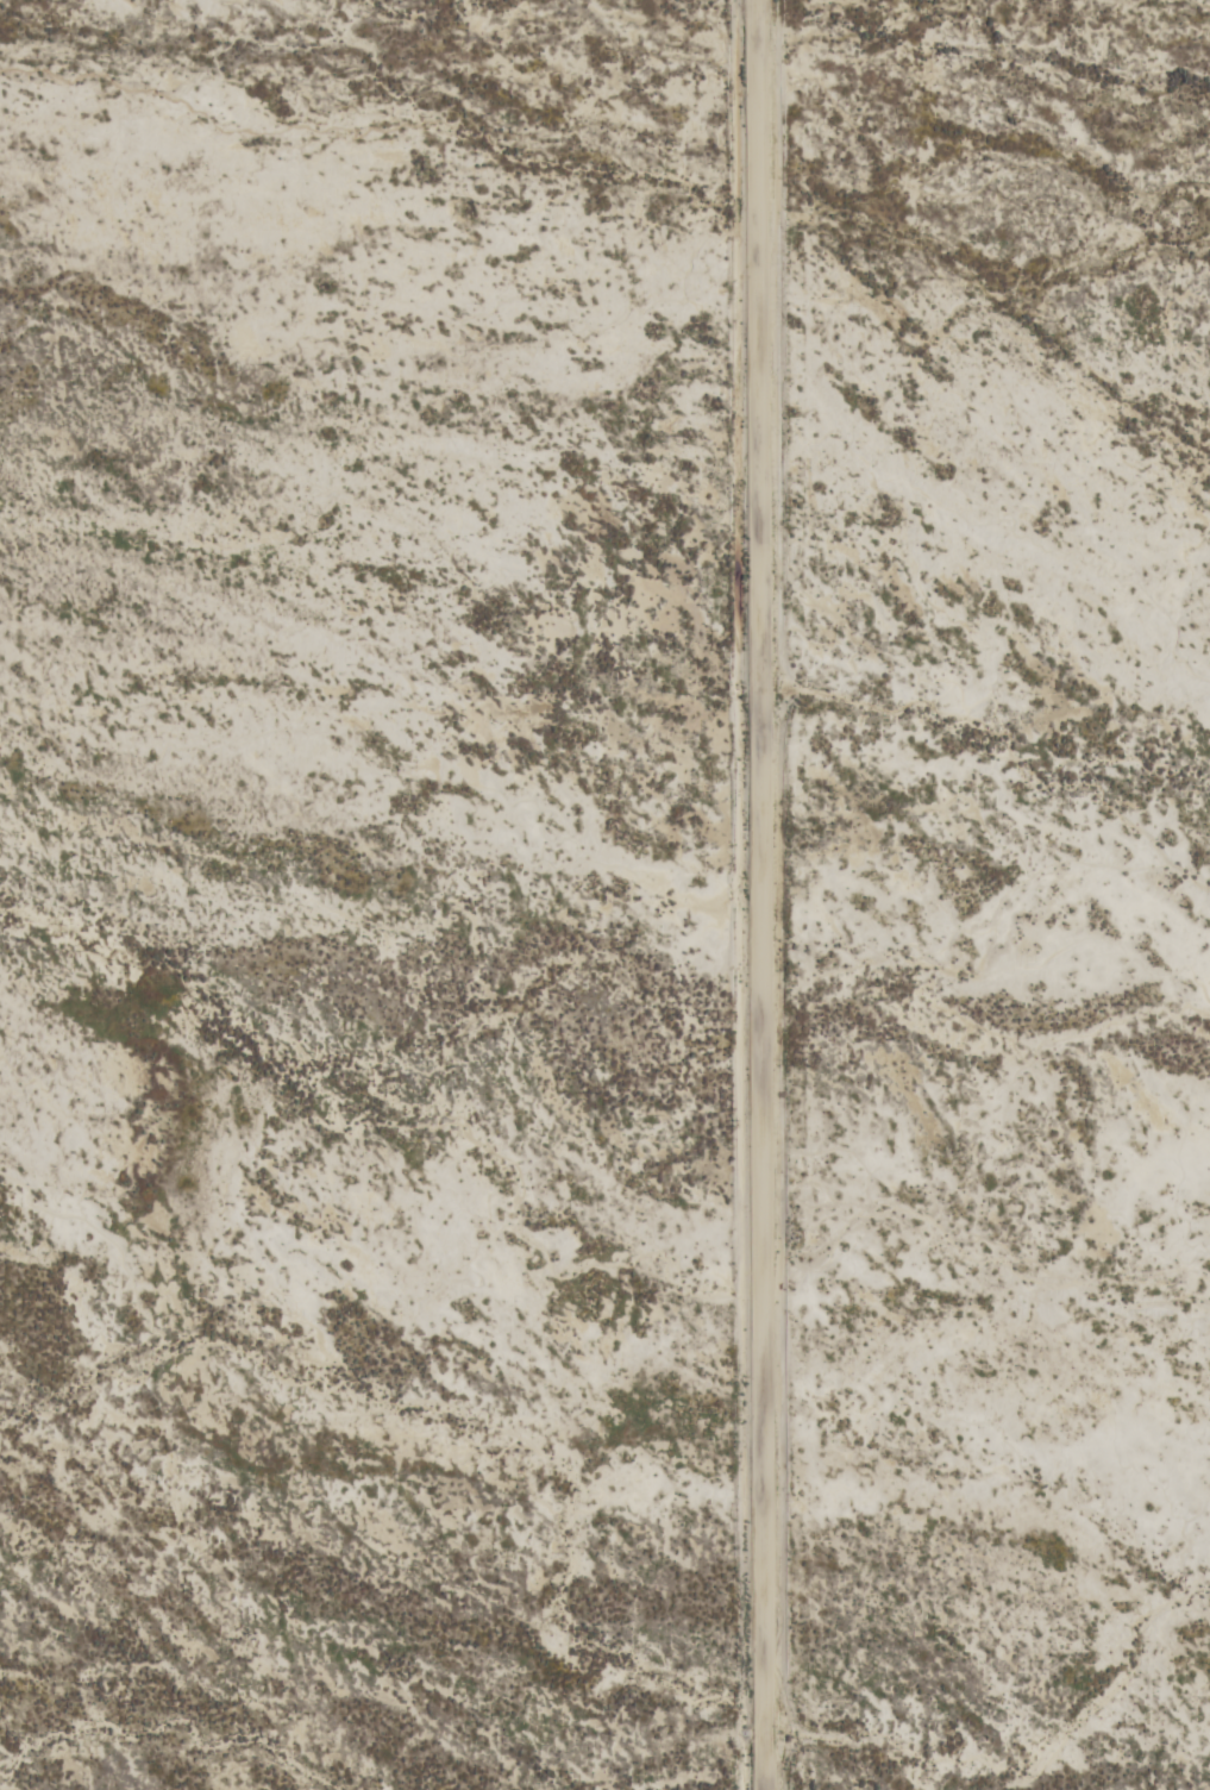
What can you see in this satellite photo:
railway: (727, 377)
railway: (716, 381)
road: (760, 895)
railway: (1079, 952)
railway: (1074, 965)

